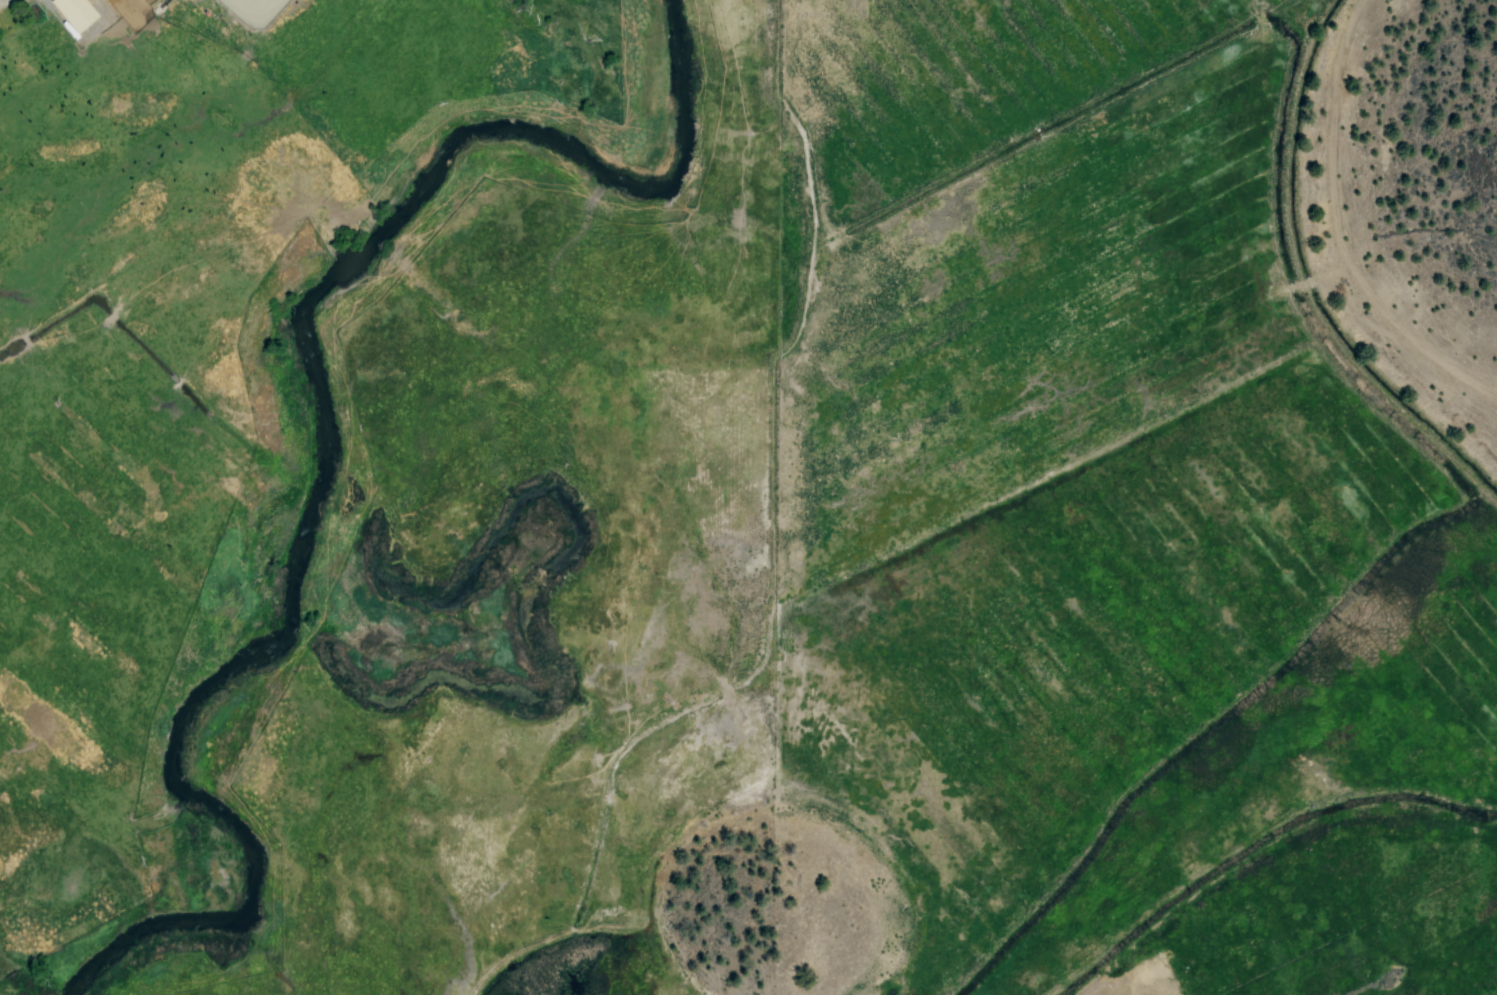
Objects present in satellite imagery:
building: (75, 13)
river: (312, 433)

